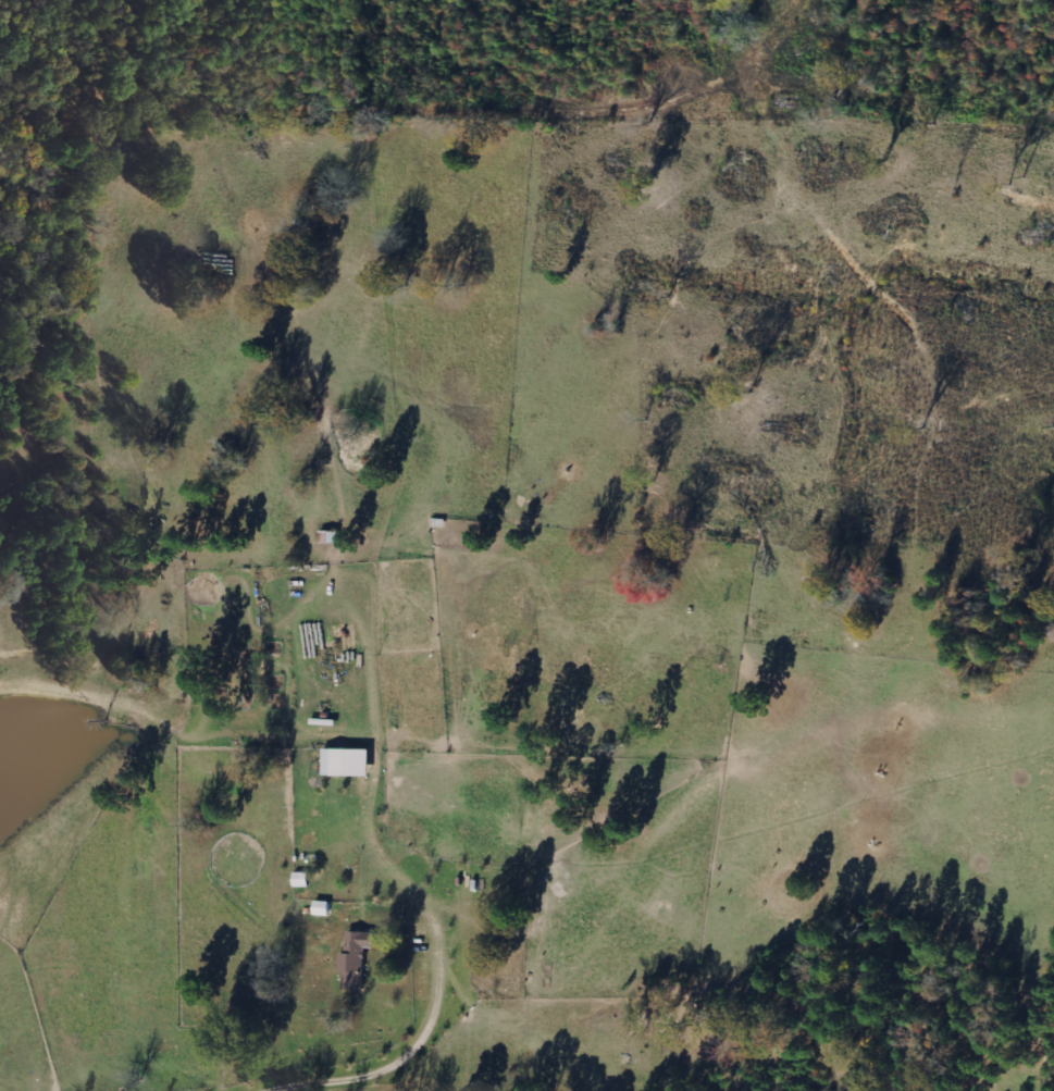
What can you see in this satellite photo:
building: (328, 536)
road: (116, 630)
building: (344, 763)
building: (299, 879)
building: (320, 908)
building: (355, 959)

